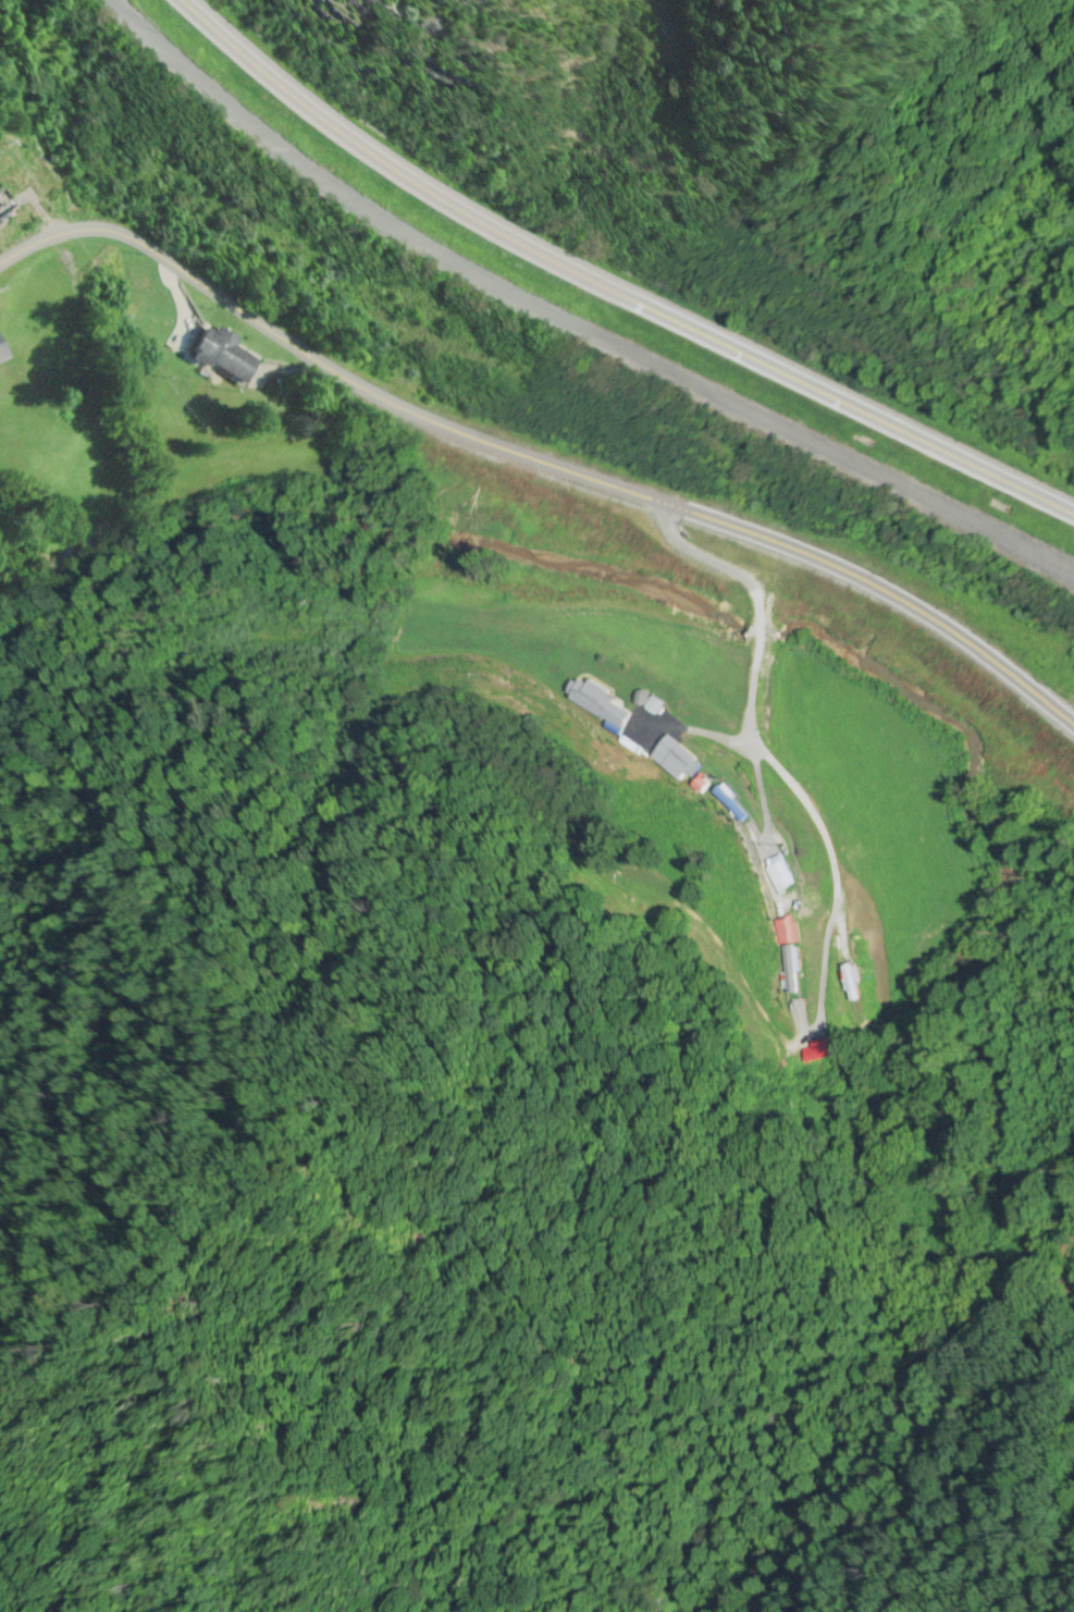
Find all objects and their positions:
road: (612, 288)
road: (534, 460)

